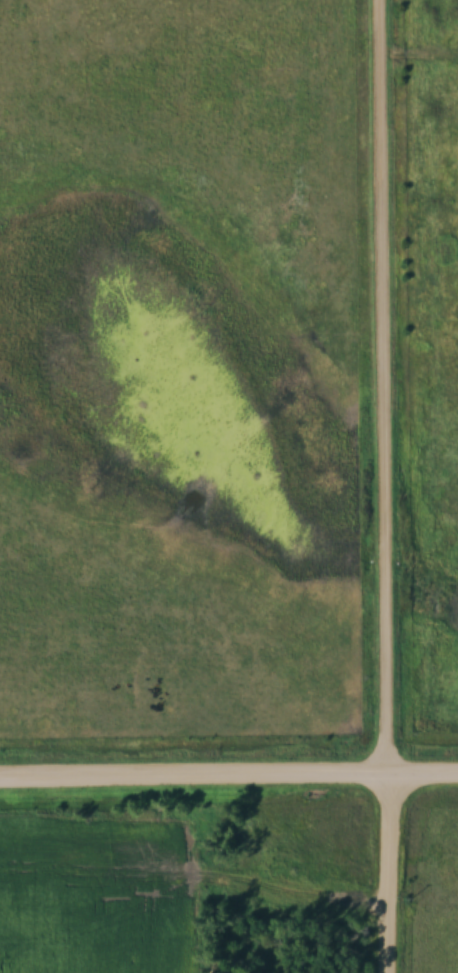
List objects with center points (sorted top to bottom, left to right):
road: (390, 486)
road: (228, 774)

